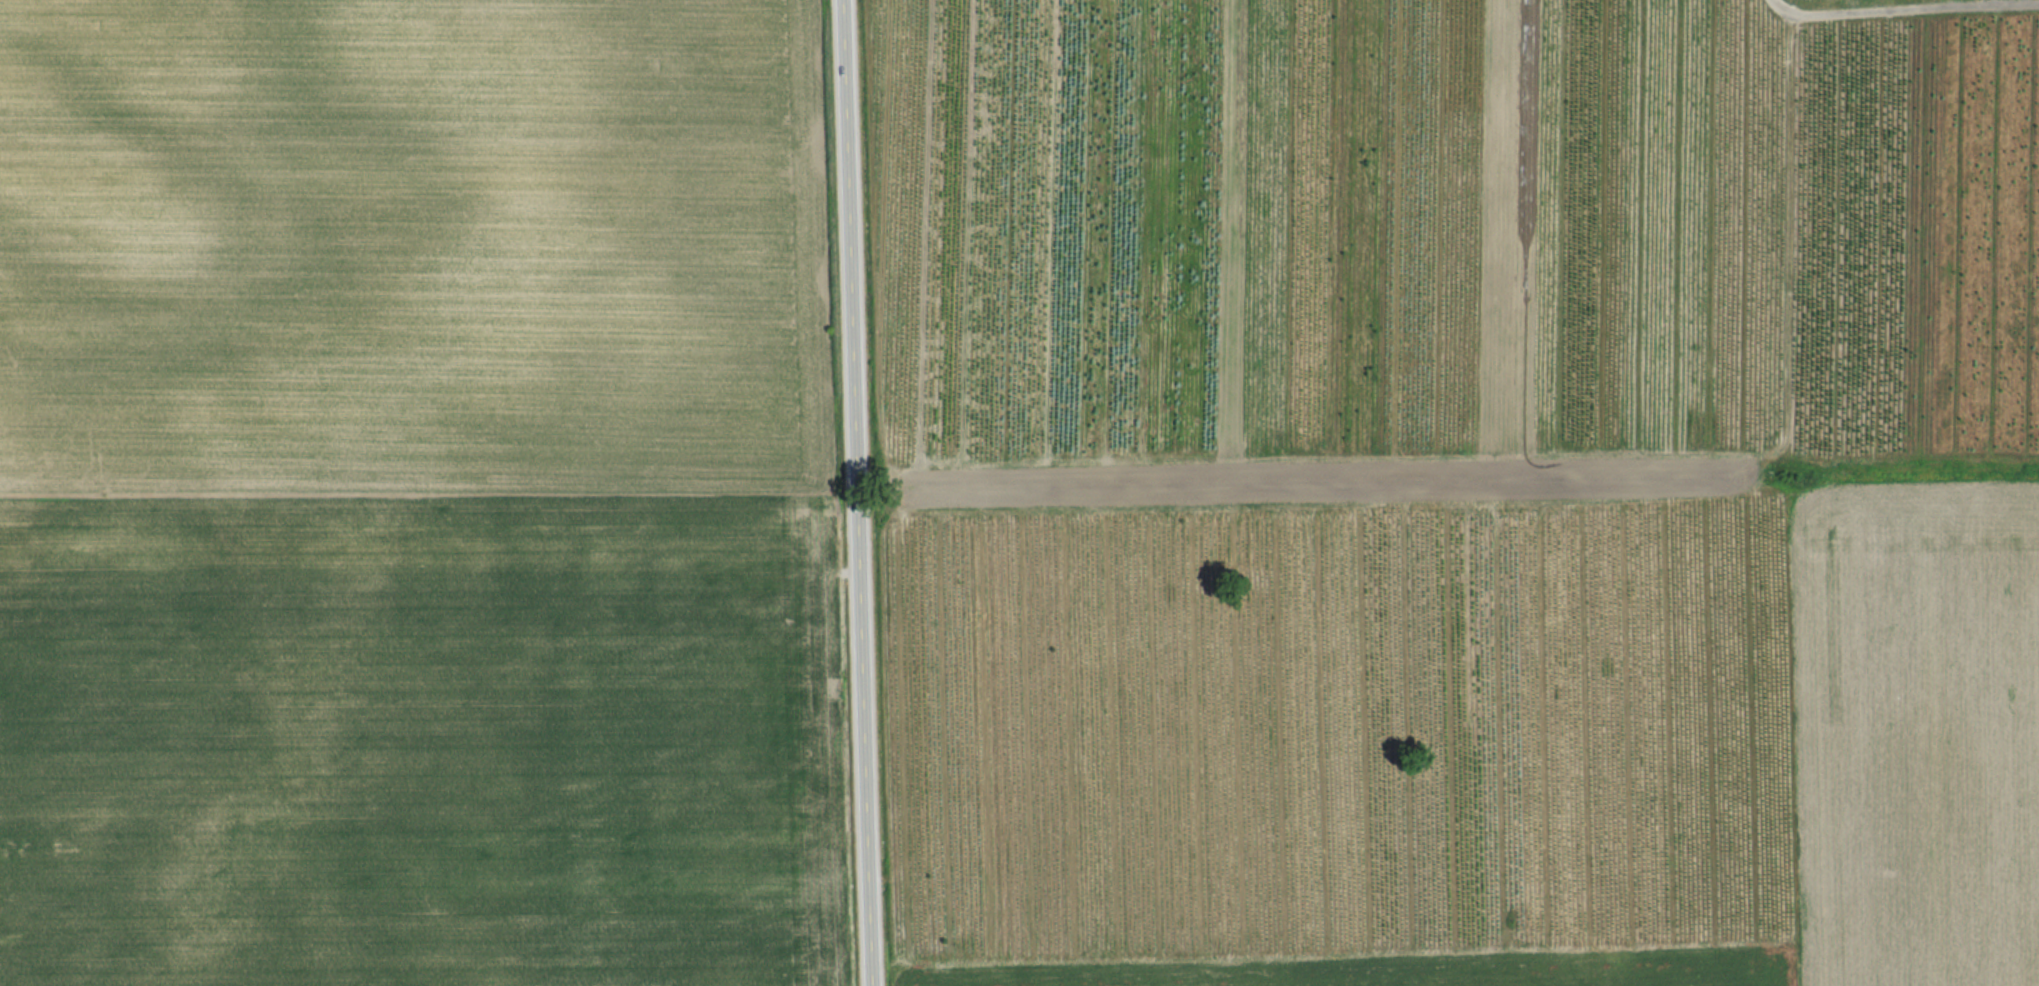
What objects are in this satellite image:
crop: (1864, 3)
road: (1904, 9)
road: (854, 492)
crop: (1456, 492)
crop: (418, 496)

